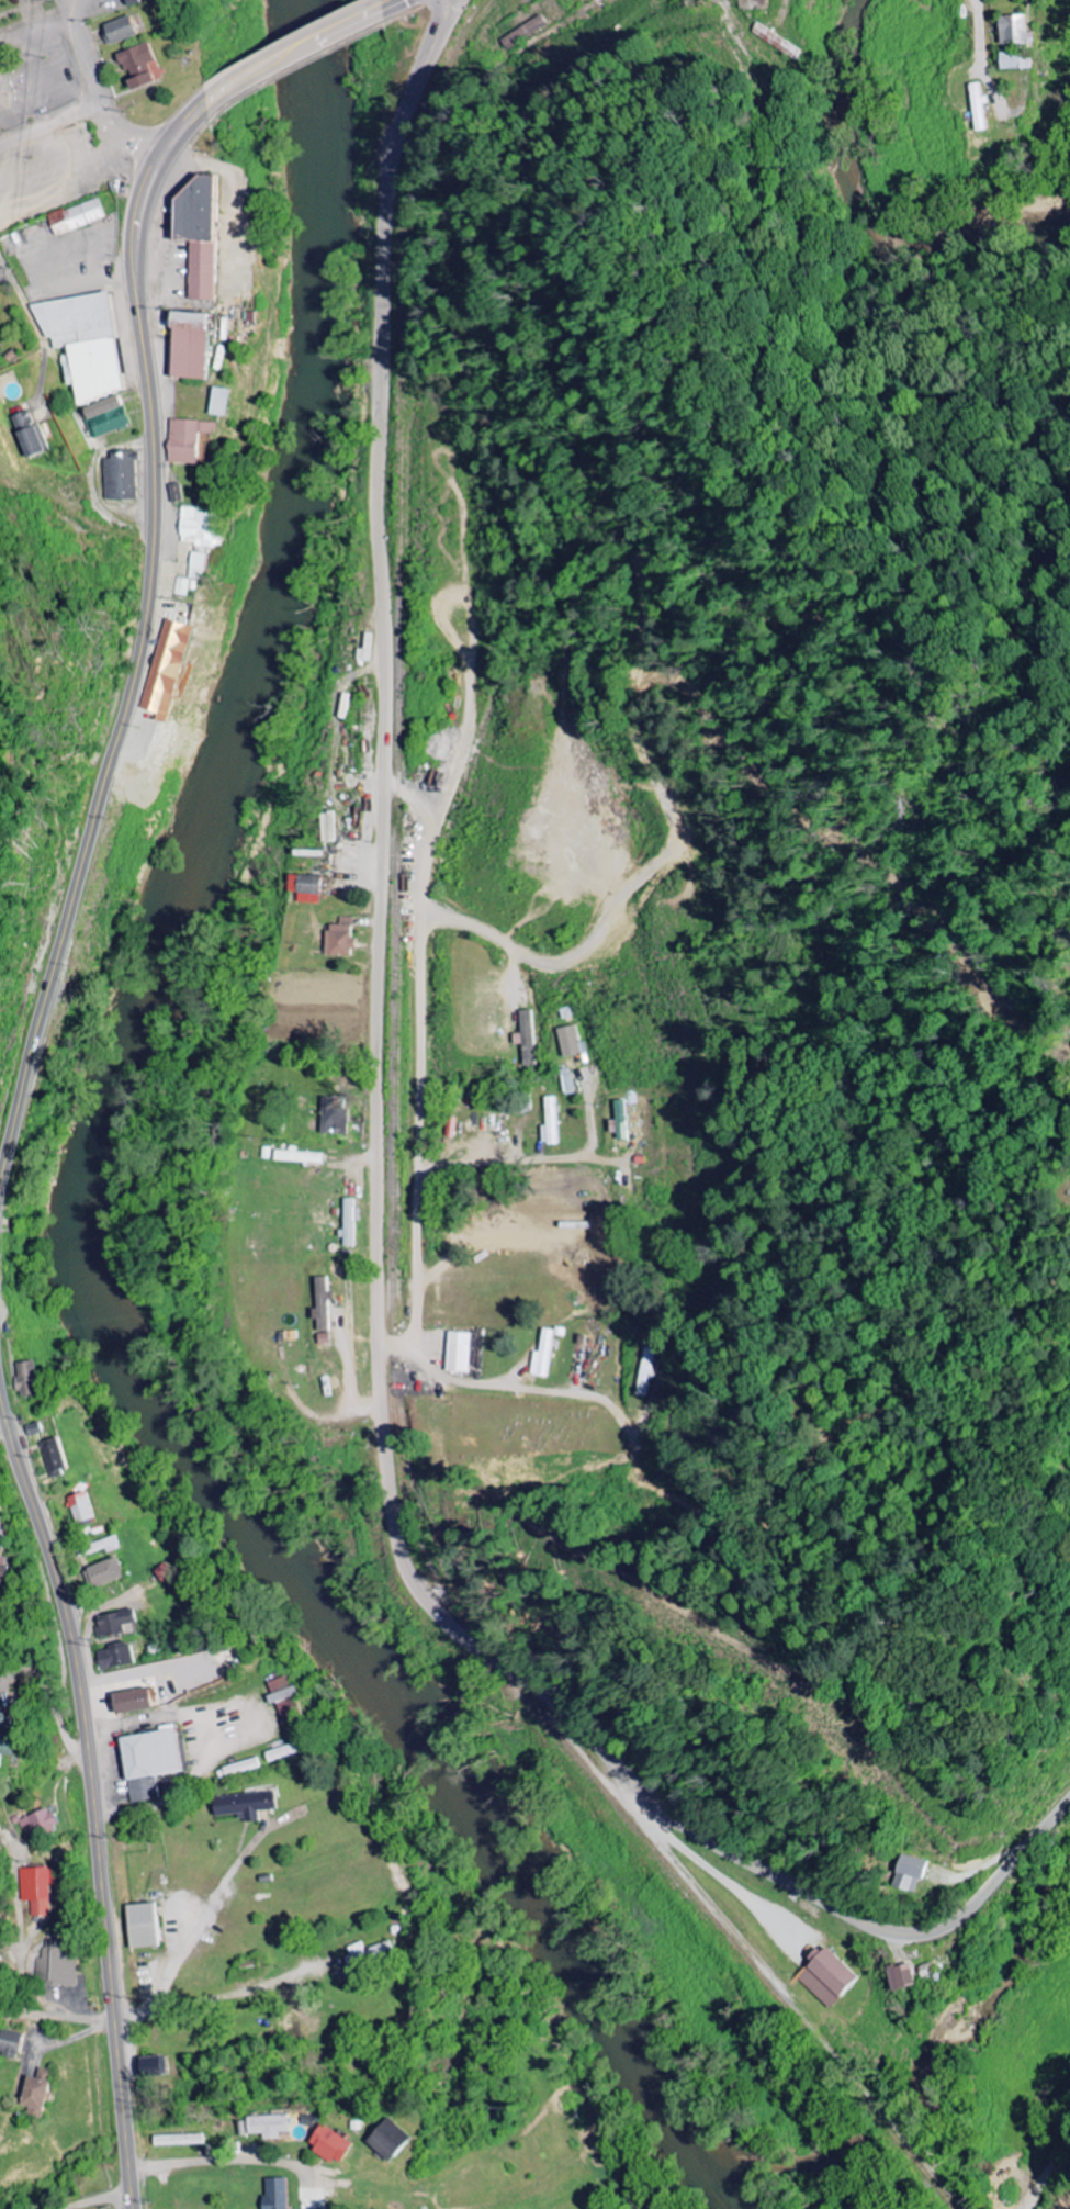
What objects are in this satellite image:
road: (391, 1)
building: (753, 1)
building: (119, 31)
building: (1015, 31)
building: (526, 35)
road: (304, 47)
road: (984, 60)
building: (1017, 61)
building: (136, 66)
building: (979, 109)
road: (49, 123)
road: (132, 137)
river: (874, 192)
building: (76, 217)
building: (198, 232)
road: (13, 279)
road: (64, 302)
building: (85, 345)
building: (188, 347)
building: (219, 403)
building: (106, 417)
building: (29, 436)
building: (187, 440)
building: (121, 476)
building: (176, 493)
building: (198, 526)
building: (199, 565)
building: (187, 586)
road: (142, 631)
building: (167, 669)
building: (306, 888)
building: (339, 939)
building: (528, 1039)
building: (570, 1042)
building: (567, 1081)
building: (331, 1115)
building: (620, 1120)
building: (551, 1122)
building: (301, 1158)
railway: (392, 1193)
river: (92, 1197)
road: (379, 1200)
building: (350, 1222)
building: (322, 1305)
building: (458, 1353)
building: (543, 1356)
building: (647, 1372)
road: (444, 1376)
building: (27, 1379)
building: (35, 1429)
building: (55, 1458)
building: (81, 1509)
building: (3, 1570)
building: (105, 1573)
building: (115, 1625)
building: (115, 1658)
building: (282, 1697)
building: (131, 1702)
road: (203, 1720)
building: (5, 1736)
building: (148, 1762)
building: (241, 1768)
road: (92, 1798)
building: (244, 1805)
building: (38, 1824)
building: (910, 1874)
building: (38, 1891)
building: (142, 1927)
road: (183, 1948)
building: (367, 1953)
building: (58, 1965)
building: (826, 1977)
building: (901, 1977)
road: (27, 2012)
building: (11, 2043)
building: (153, 2067)
building: (35, 2093)
building: (269, 2127)
building: (388, 2140)
building: (177, 2141)
building: (329, 2145)
road: (214, 2164)
road: (1047, 2175)
building: (274, 2194)
road: (97, 2199)

